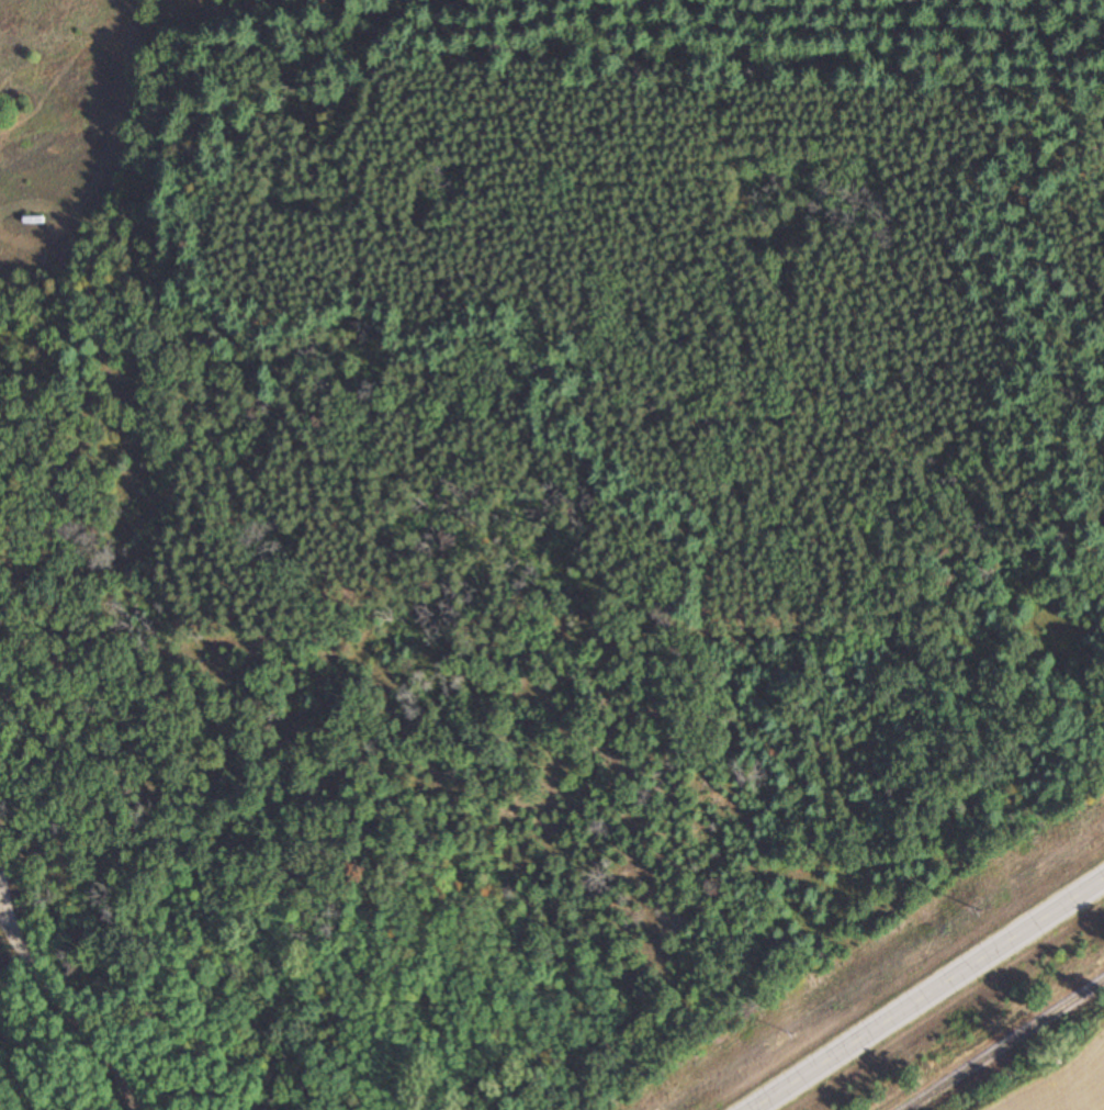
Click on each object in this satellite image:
road: (928, 995)
railway: (1004, 1044)

